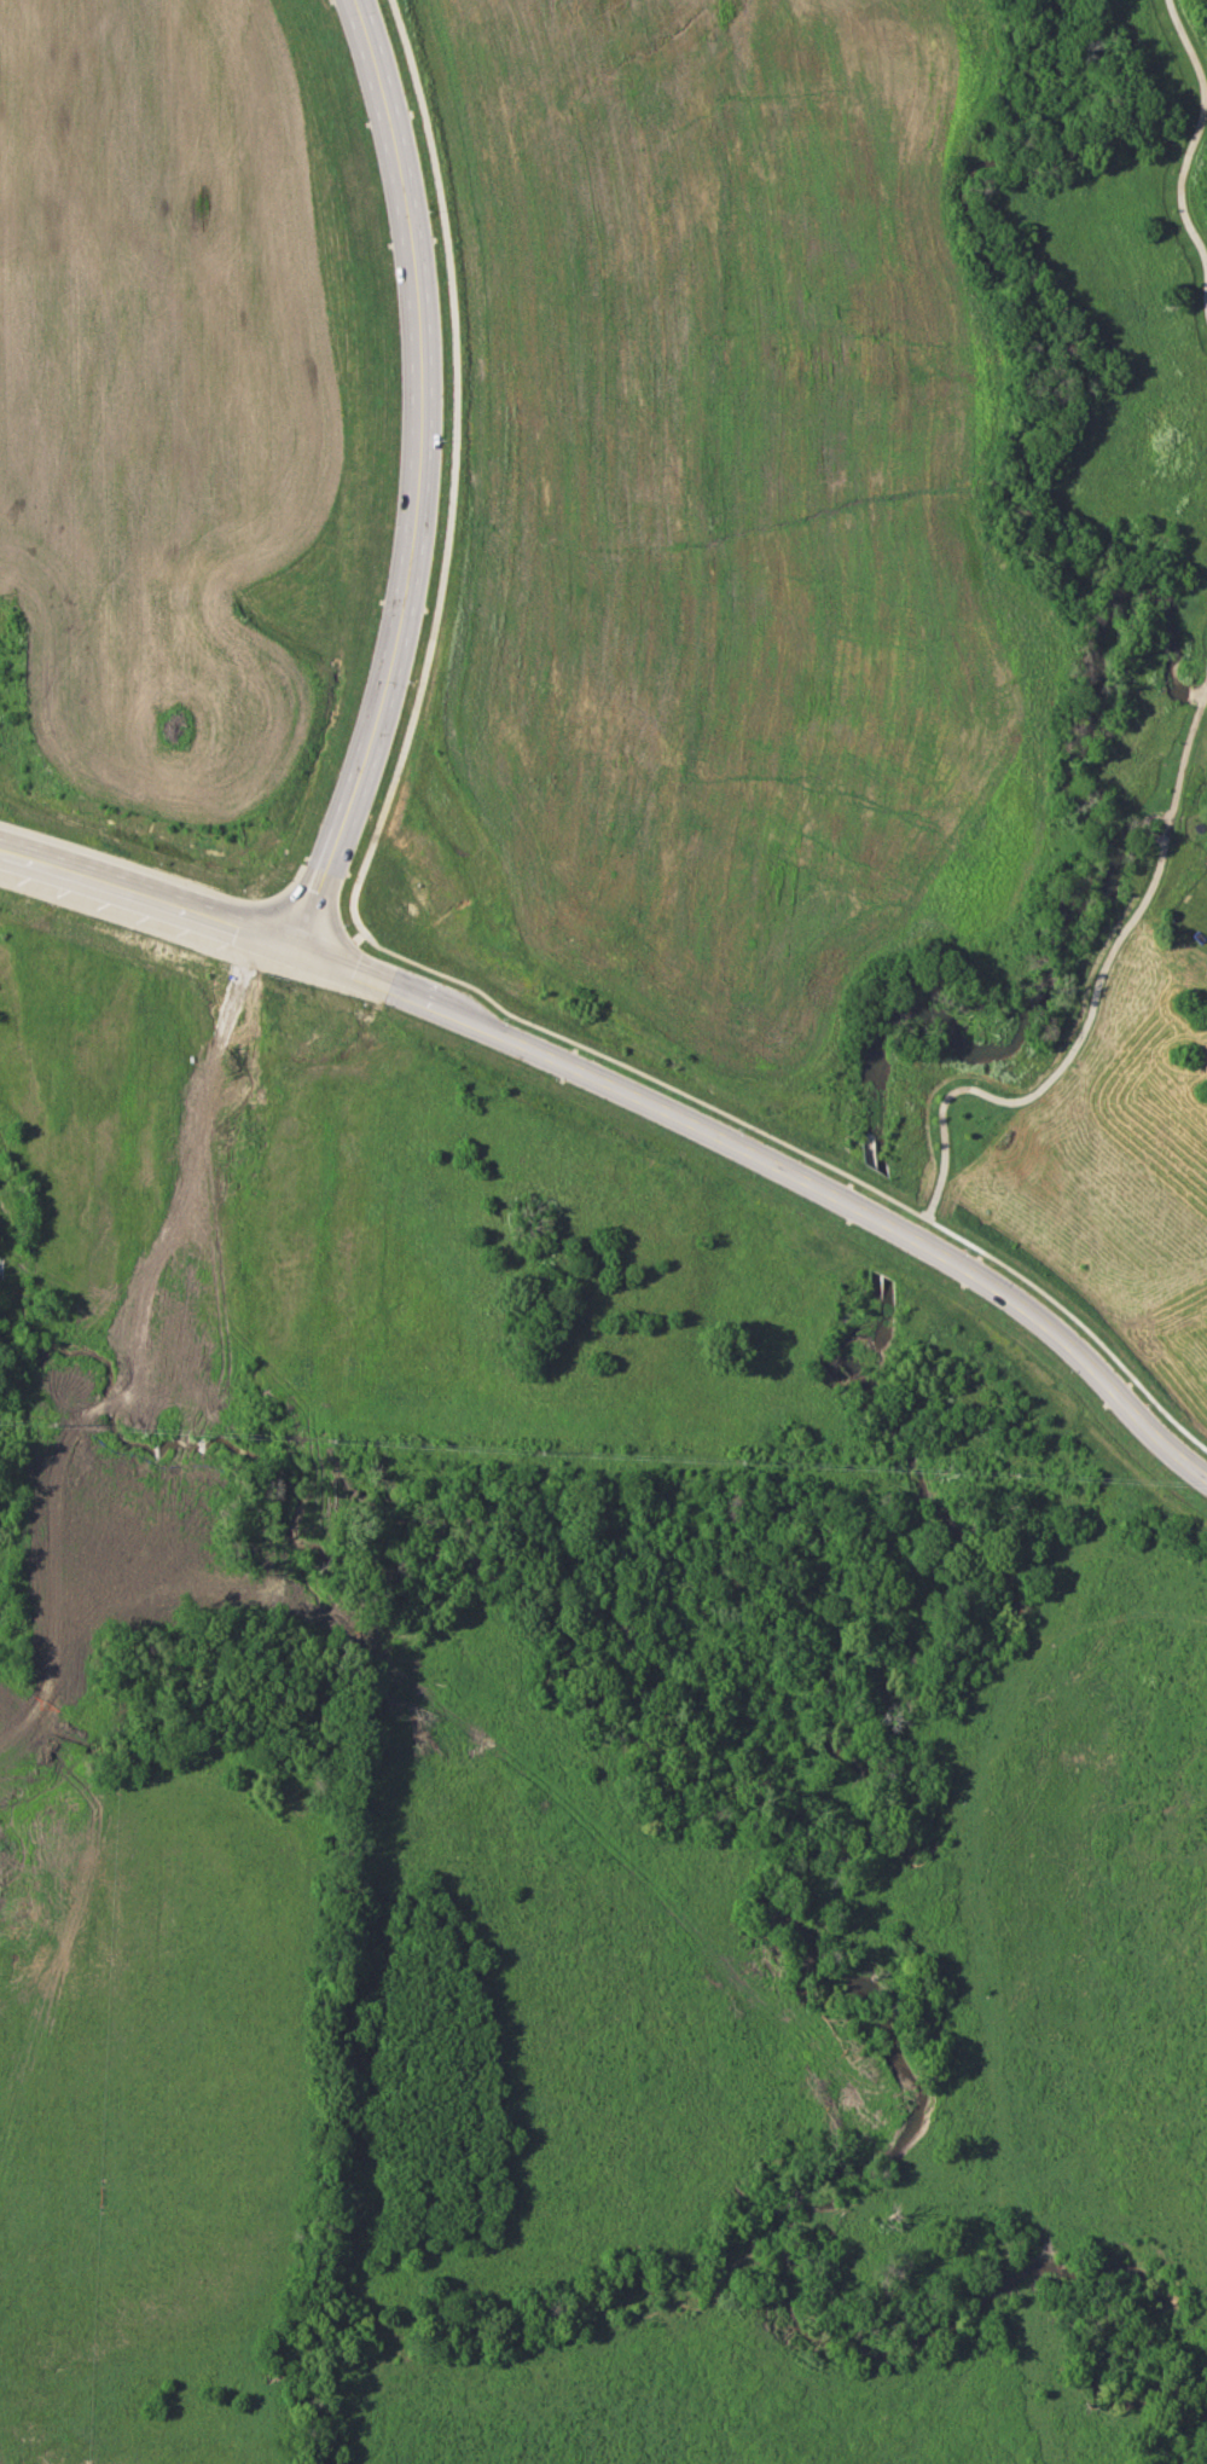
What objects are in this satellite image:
road: (1185, 152)
crop: (167, 411)
park: (1142, 442)
road: (449, 471)
crop: (735, 508)
road: (312, 900)
road: (347, 946)
road: (1092, 1004)
road: (639, 1077)
road: (639, 1100)

